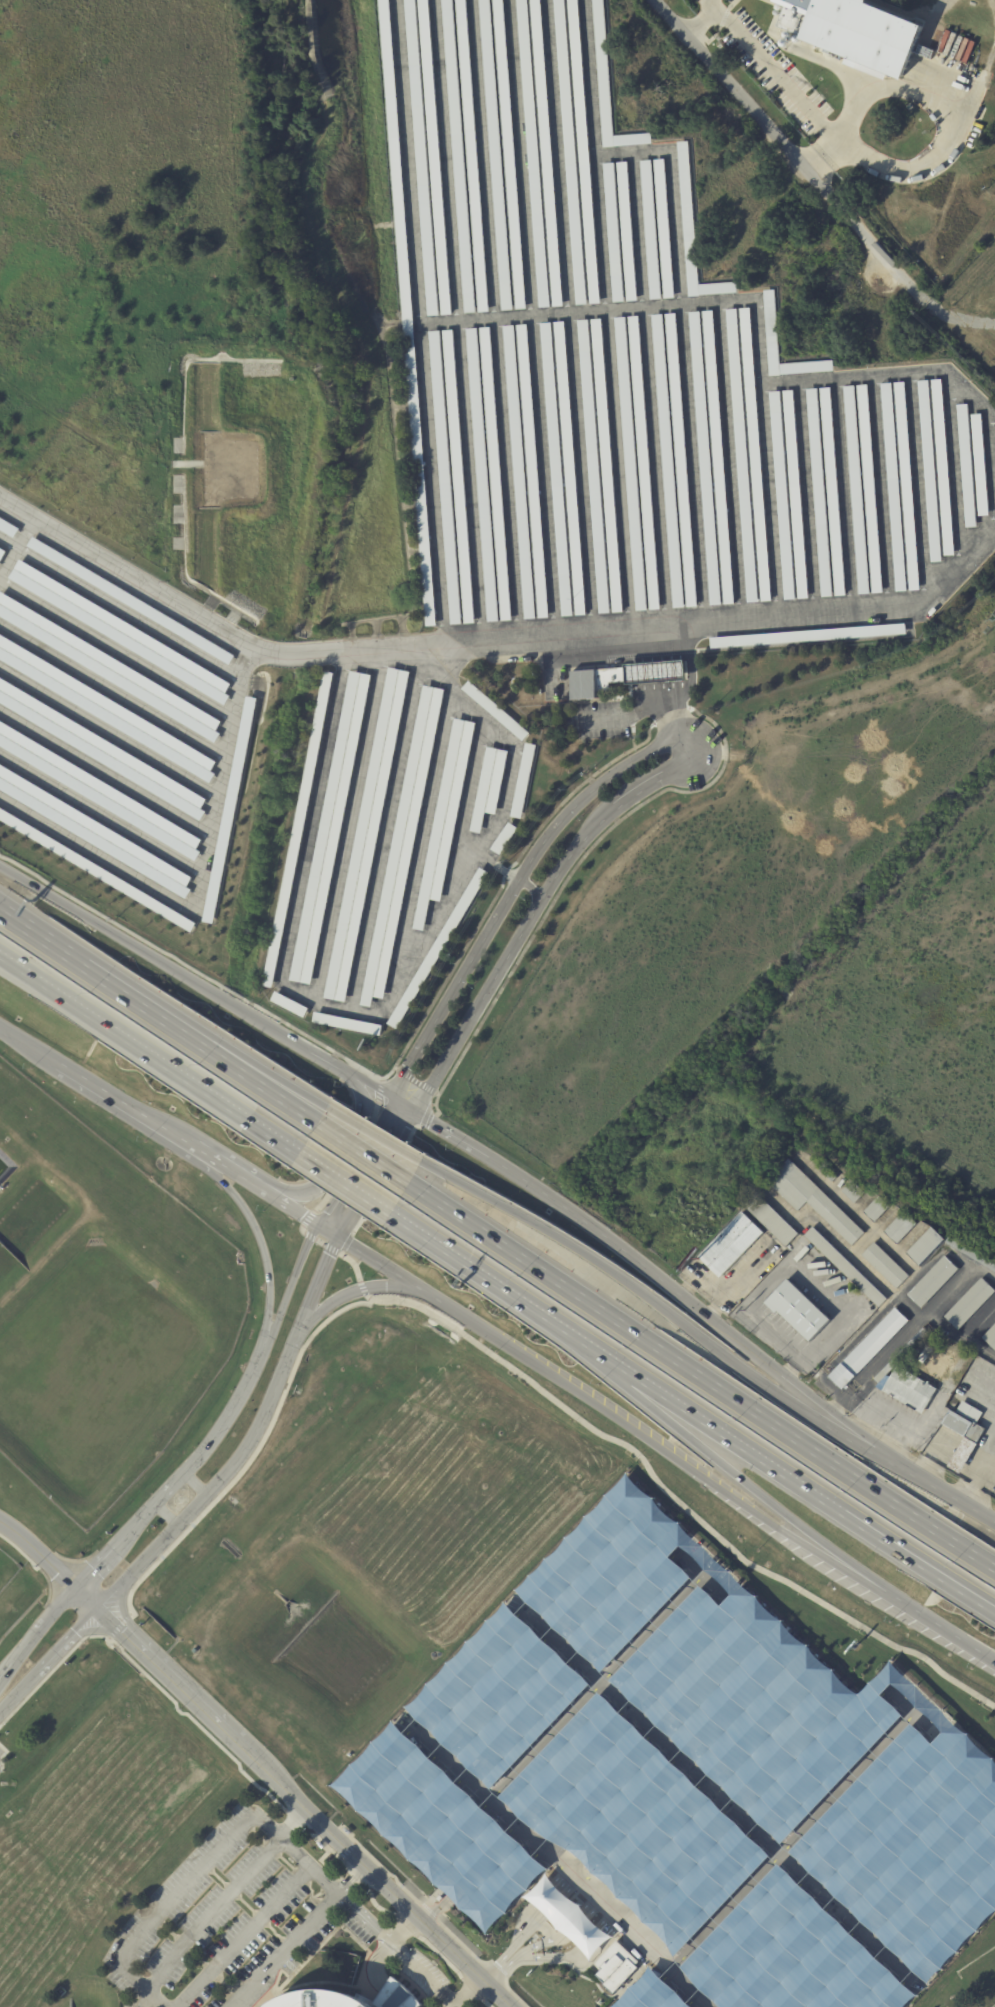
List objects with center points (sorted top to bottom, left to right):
road: (709, 2)
road: (698, 19)
building: (854, 29)
road: (776, 74)
building: (609, 87)
road: (954, 116)
building: (583, 149)
road: (790, 151)
building: (570, 152)
building: (533, 153)
building: (546, 153)
building: (509, 154)
building: (472, 155)
building: (496, 155)
building: (459, 156)
building: (422, 157)
building: (435, 157)
road: (825, 157)
road: (449, 162)
road: (412, 163)
building: (664, 227)
building: (651, 230)
building: (627, 231)
building: (694, 231)
building: (614, 232)
building: (407, 312)
road: (958, 321)
road: (443, 324)
building: (771, 325)
parking lot: (634, 391)
building: (719, 456)
building: (755, 456)
building: (681, 458)
building: (742, 459)
building: (705, 461)
building: (607, 464)
building: (631, 464)
building: (668, 464)
building: (594, 465)
building: (967, 465)
building: (981, 465)
building: (644, 466)
building: (557, 467)
building: (943, 467)
building: (532, 471)
building: (570, 471)
building: (931, 471)
building: (519, 473)
building: (496, 475)
building: (482, 478)
building: (458, 480)
building: (445, 481)
building: (907, 485)
building: (894, 488)
building: (870, 490)
building: (857, 491)
building: (833, 493)
building: (783, 494)
building: (820, 496)
building: (796, 497)
building: (7, 527)
building: (2, 553)
road: (123, 571)
building: (130, 600)
building: (121, 630)
building: (805, 637)
road: (344, 647)
road: (445, 666)
building: (108, 667)
road: (657, 671)
building: (586, 684)
building: (106, 709)
building: (495, 712)
road: (674, 715)
road: (726, 744)
building: (101, 750)
road: (733, 754)
building: (523, 783)
building: (489, 788)
building: (98, 792)
building: (229, 809)
building: (446, 819)
building: (94, 831)
building: (330, 831)
building: (297, 833)
building: (366, 836)
building: (503, 837)
building: (403, 846)
building: (96, 870)
road: (202, 883)
road: (530, 888)
road: (510, 891)
road: (532, 915)
road: (41, 936)
building: (435, 947)
road: (145, 954)
road: (196, 974)
road: (145, 1005)
building: (289, 1006)
building: (347, 1026)
road: (30, 1044)
road: (148, 1056)
road: (320, 1056)
road: (267, 1075)
road: (381, 1078)
road: (262, 1082)
road: (369, 1085)
road: (379, 1091)
road: (436, 1101)
road: (126, 1104)
road: (425, 1114)
road: (372, 1134)
road: (363, 1149)
road: (337, 1151)
road: (346, 1158)
road: (352, 1160)
building: (826, 1170)
road: (232, 1171)
road: (374, 1174)
road: (383, 1177)
road: (343, 1185)
road: (538, 1189)
building: (853, 1192)
building: (813, 1200)
building: (877, 1209)
road: (294, 1210)
road: (307, 1218)
building: (771, 1219)
building: (901, 1227)
road: (301, 1230)
road: (327, 1231)
road: (309, 1235)
road: (257, 1236)
road: (318, 1242)
road: (346, 1242)
building: (731, 1245)
building: (926, 1246)
road: (330, 1248)
road: (341, 1252)
building: (971, 1254)
road: (352, 1263)
road: (811, 1264)
building: (886, 1266)
building: (846, 1267)
road: (388, 1269)
road: (922, 1273)
road: (628, 1282)
building: (933, 1282)
road: (959, 1282)
road: (291, 1286)
road: (314, 1288)
road: (362, 1288)
road: (498, 1288)
road: (346, 1293)
building: (970, 1304)
building: (799, 1311)
road: (481, 1328)
road: (960, 1333)
building: (991, 1338)
building: (869, 1349)
building: (901, 1356)
road: (877, 1364)
road: (701, 1372)
road: (784, 1375)
building: (909, 1390)
road: (226, 1411)
road: (864, 1416)
building: (963, 1426)
road: (902, 1430)
road: (723, 1437)
road: (853, 1442)
road: (253, 1455)
building: (963, 1456)
road: (225, 1470)
road: (978, 1472)
road: (708, 1481)
road: (195, 1483)
road: (749, 1486)
road: (940, 1491)
road: (676, 1502)
road: (154, 1504)
road: (166, 1514)
road: (39, 1553)
road: (100, 1562)
road: (916, 1564)
road: (38, 1568)
road: (112, 1593)
road: (88, 1597)
road: (121, 1606)
road: (113, 1619)
road: (86, 1620)
road: (119, 1625)
road: (101, 1630)
road: (947, 1631)
road: (37, 1632)
road: (131, 1636)
road: (116, 1642)
road: (141, 1646)
road: (129, 1658)
road: (37, 1670)
road: (50, 1671)
airport: (409, 1676)
road: (211, 1735)
road: (1, 1755)
parking lot: (688, 1785)
road: (294, 1820)
road: (259, 1823)
road: (293, 1824)
road: (327, 1828)
road: (329, 1848)
road: (358, 1878)
road: (354, 1883)
road: (374, 1904)
building: (568, 1916)
road: (205, 1919)
parking lot: (231, 1921)
road: (405, 1924)
road: (244, 1938)
road: (385, 1949)
road: (286, 1952)
road: (440, 1955)
building: (615, 1965)
parking lot: (424, 1975)
road: (471, 1989)
road: (469, 1994)
building: (394, 1996)
road: (393, 1997)
building: (318, 2000)
road: (485, 2003)

